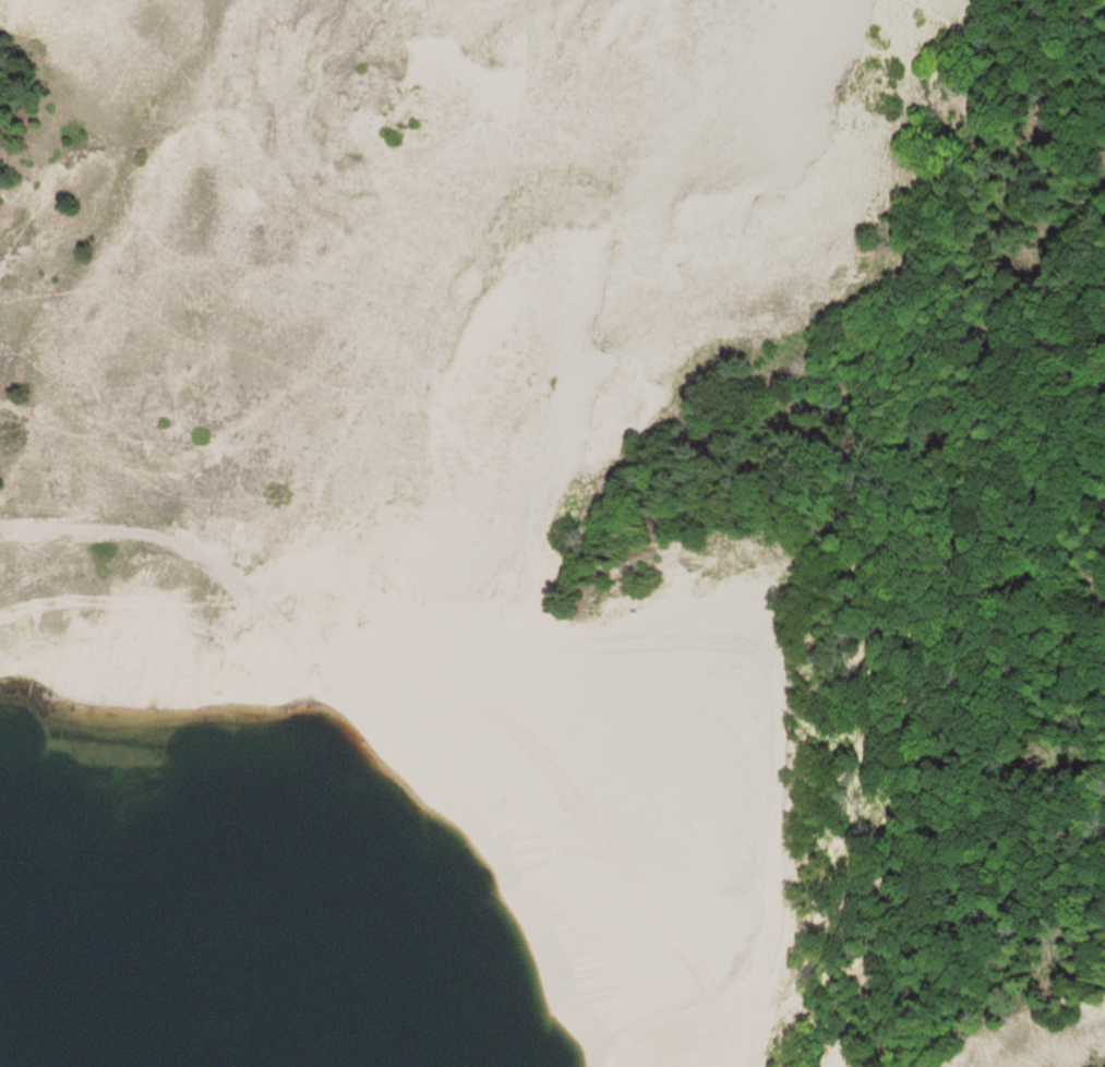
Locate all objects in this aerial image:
park: (552, 533)

